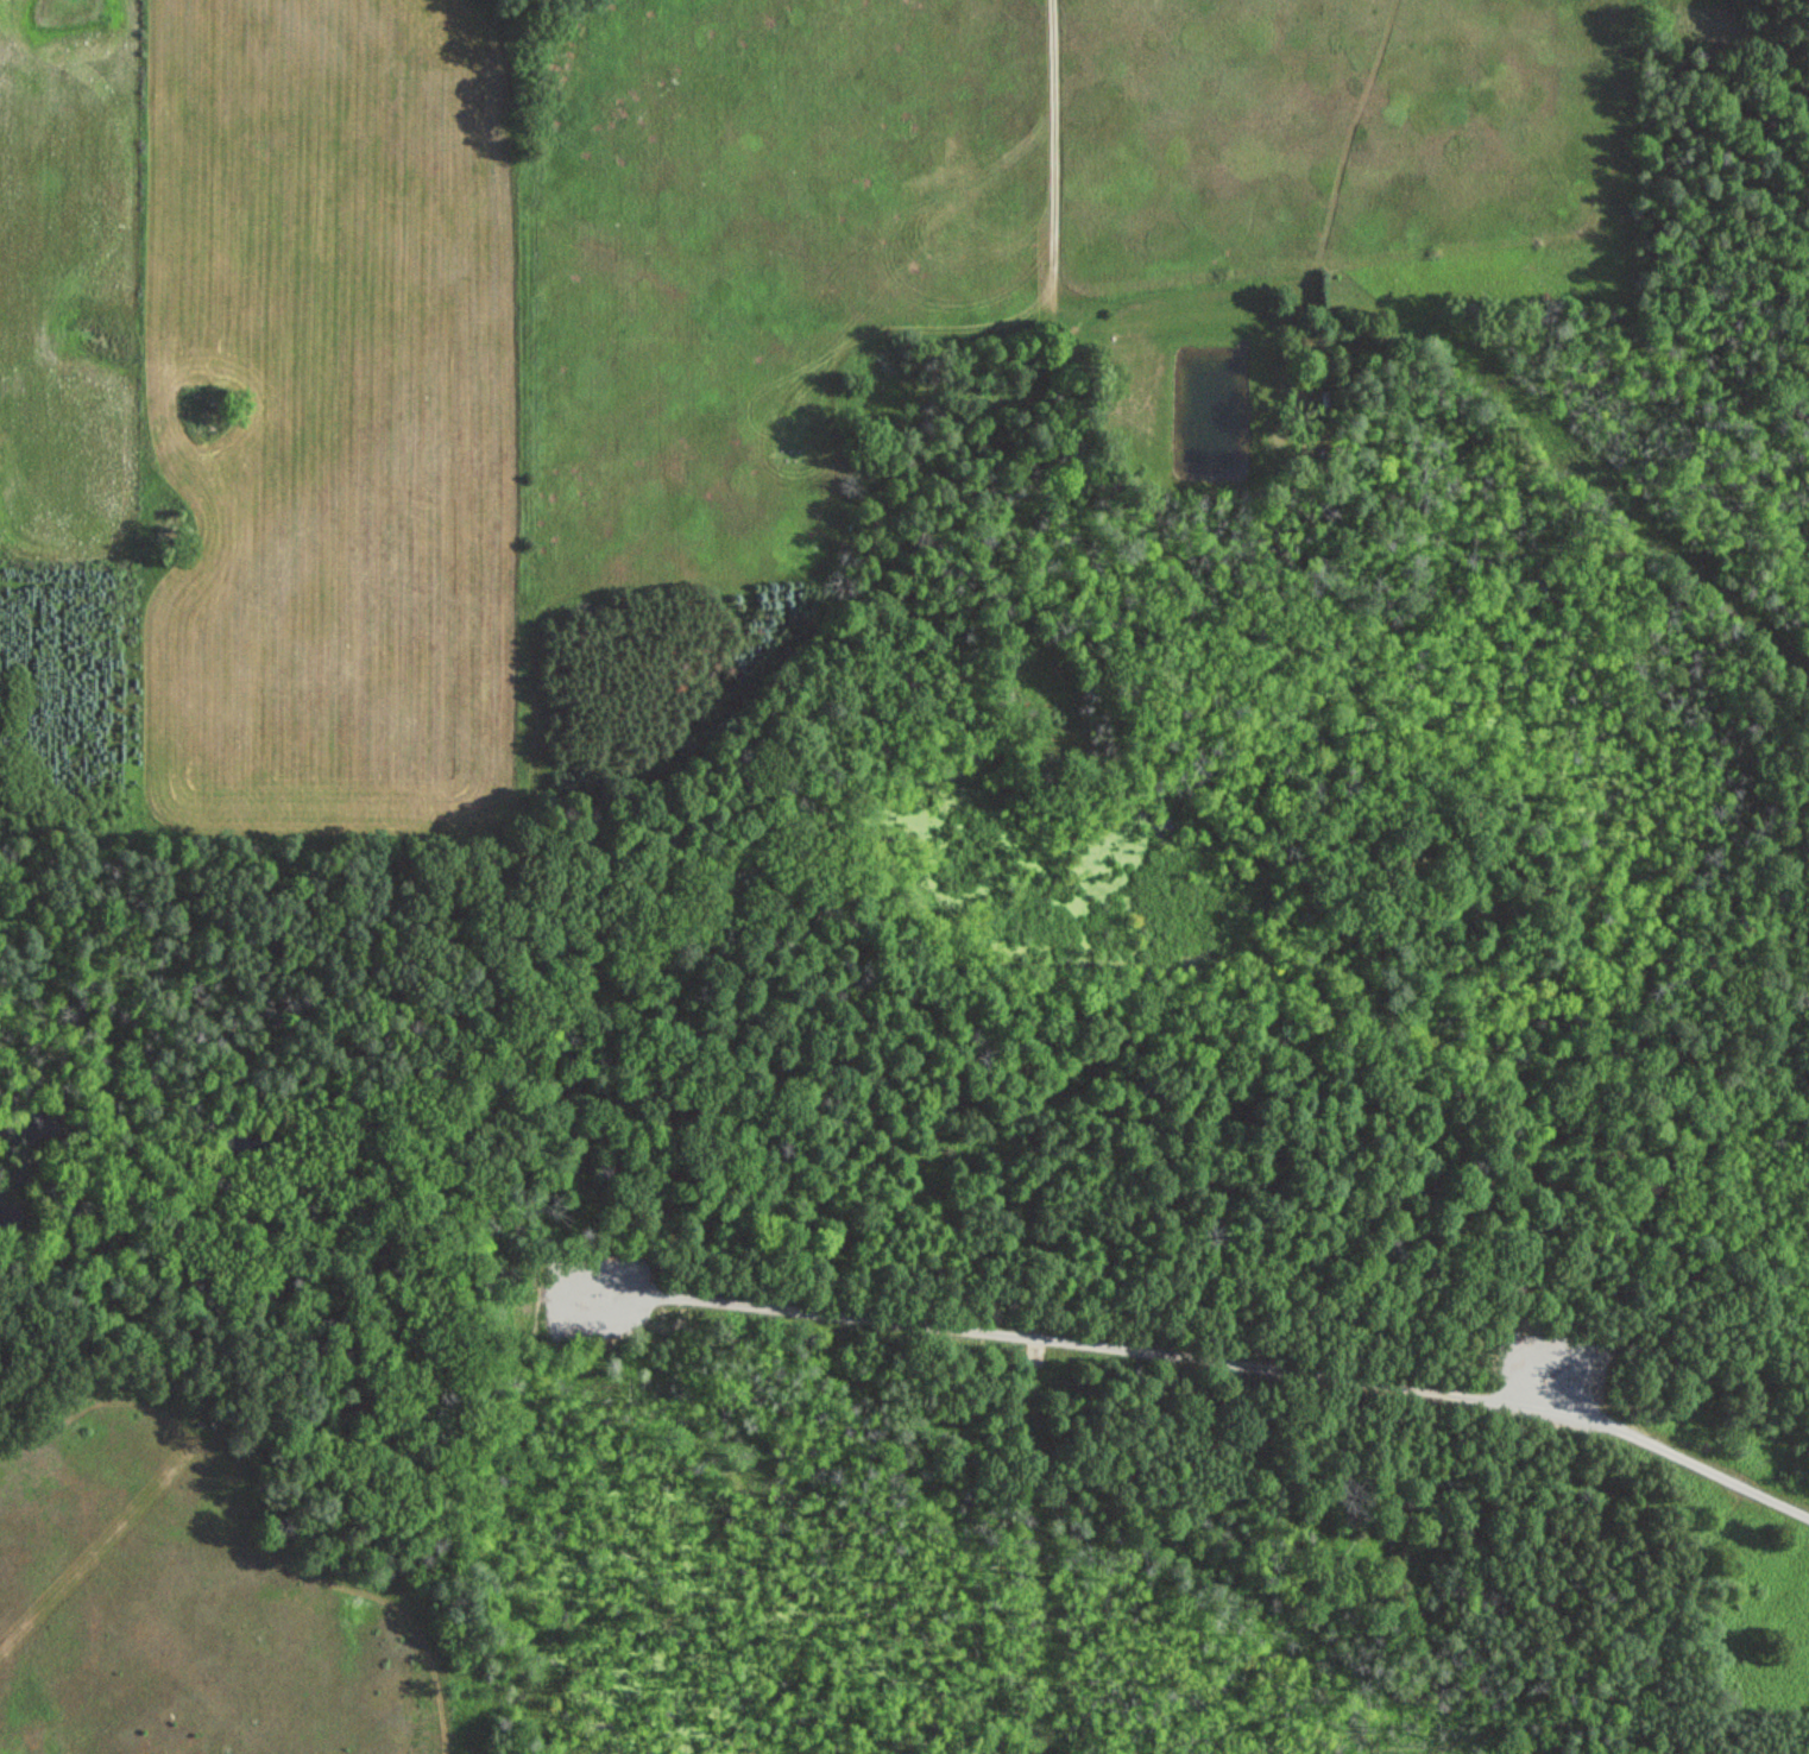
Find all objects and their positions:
road: (1244, 1367)

